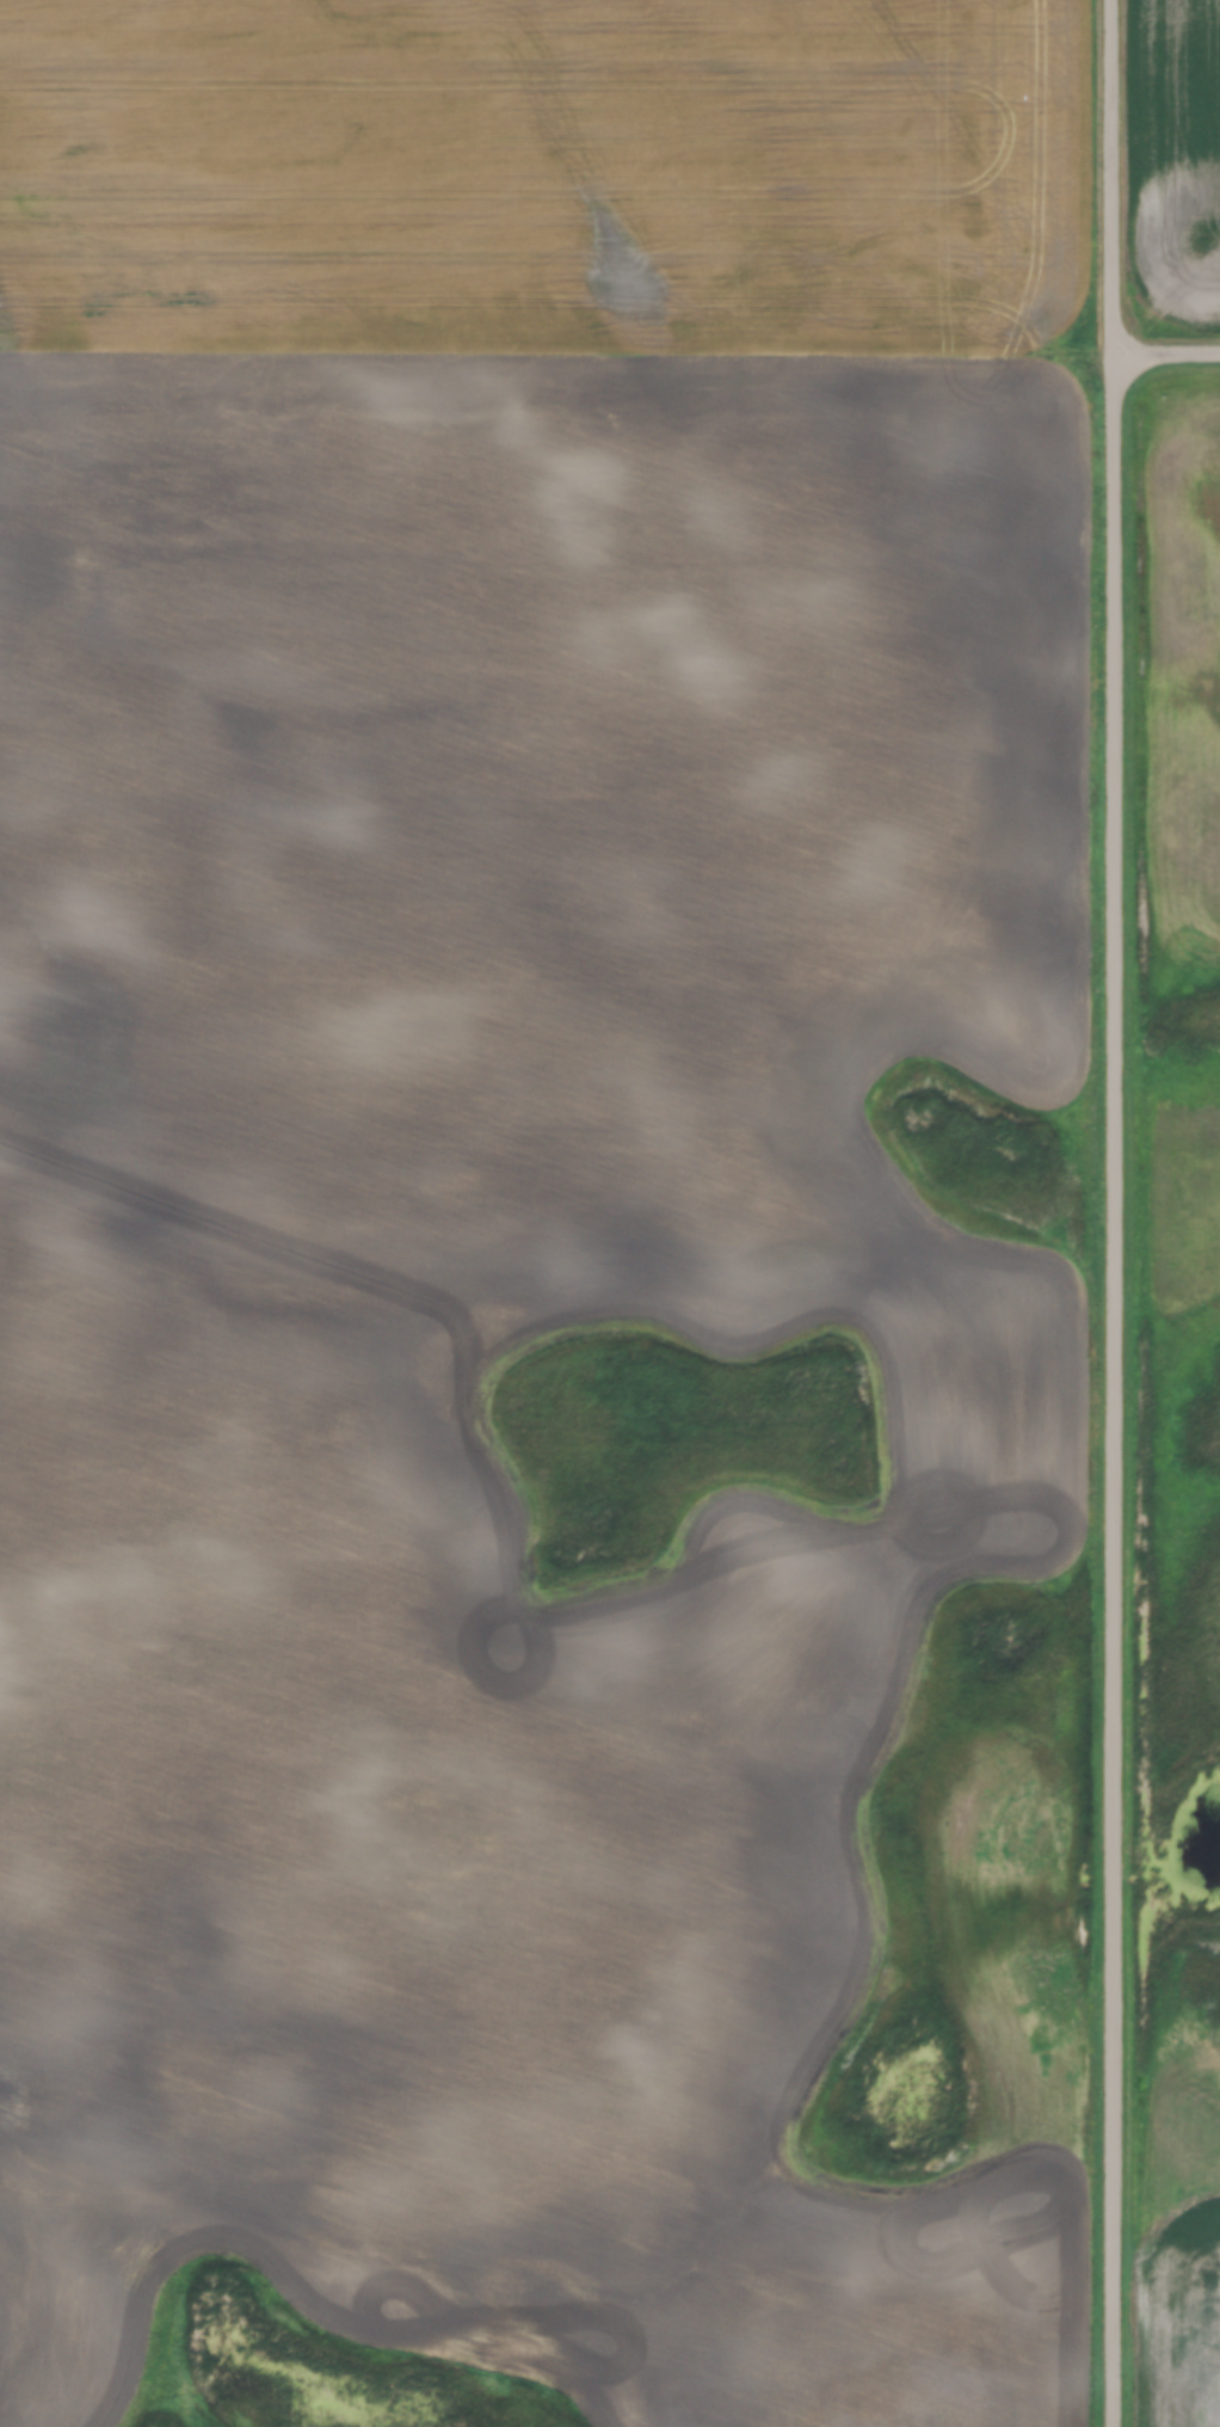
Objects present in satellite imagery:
road: (1164, 358)
road: (1111, 1212)

